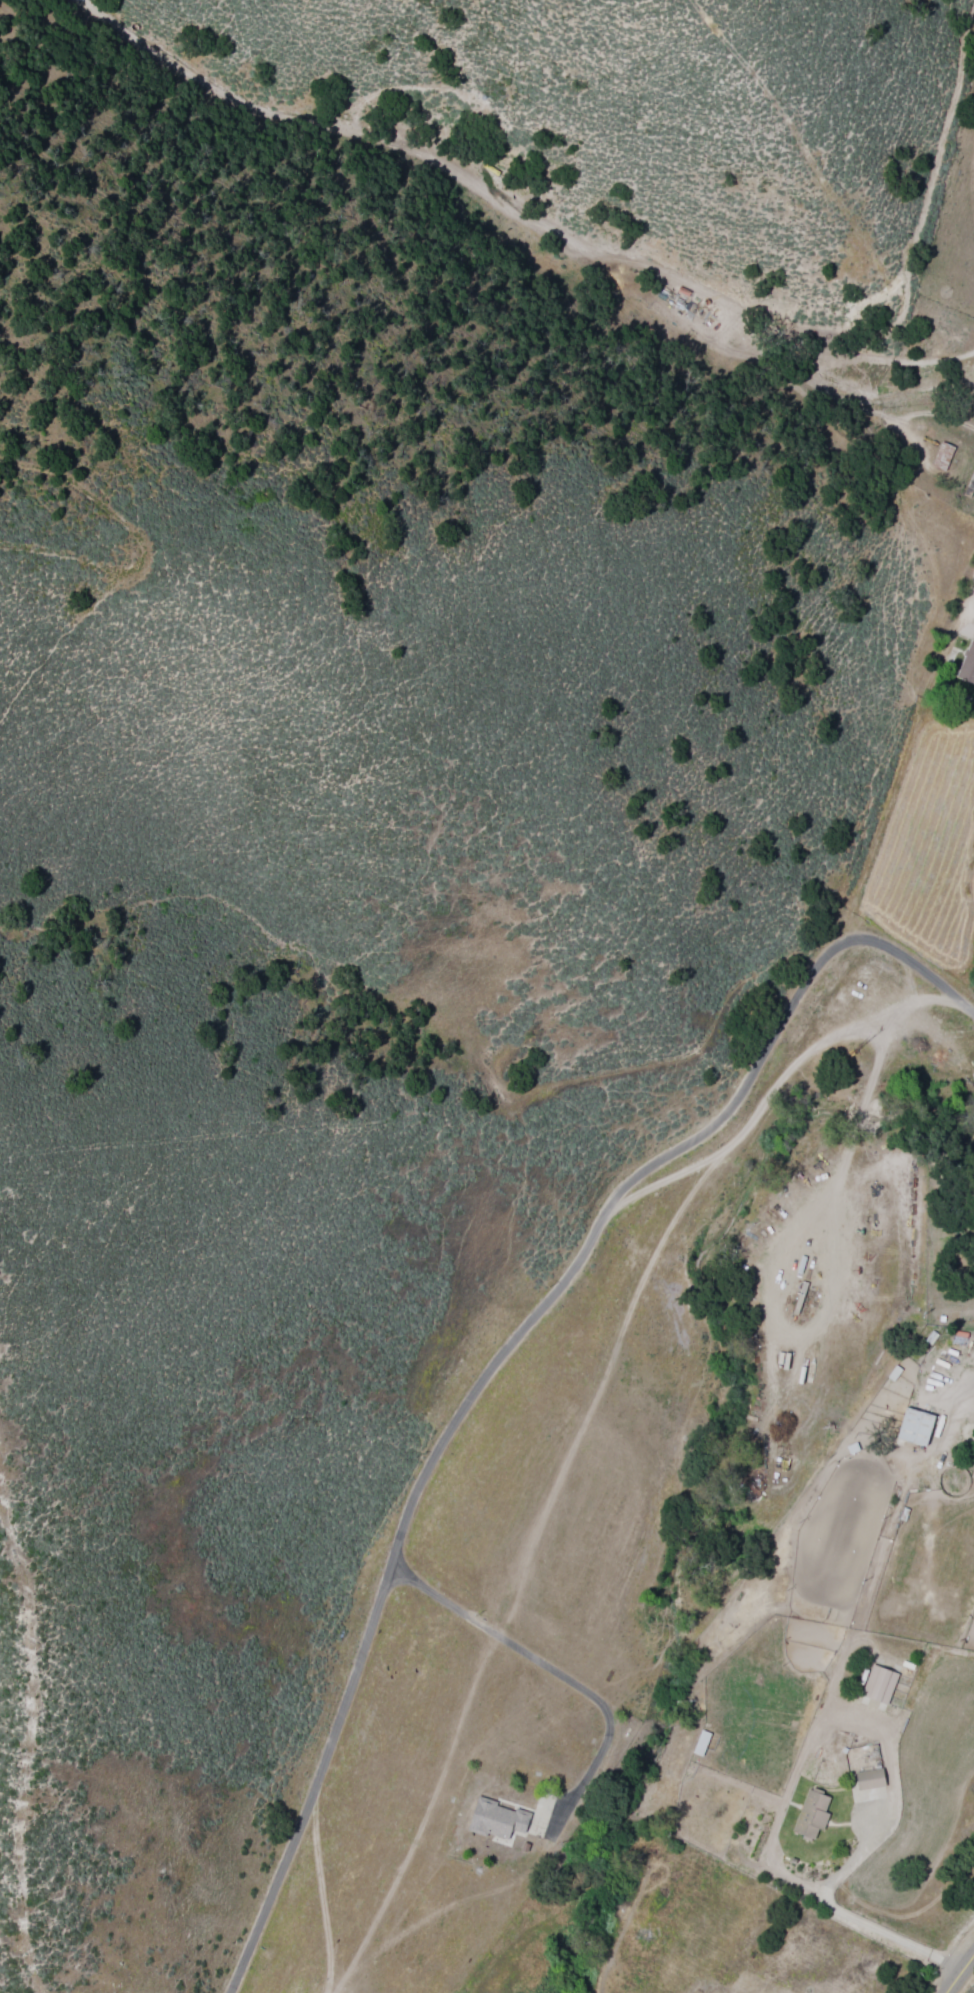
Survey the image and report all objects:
road: (518, 216)
building: (944, 457)
road: (960, 608)
building: (969, 660)
road: (504, 1360)
building: (920, 1427)
road: (557, 1681)
building: (882, 1684)
building: (873, 1779)
building: (814, 1815)
building: (501, 1817)
road: (958, 1971)

